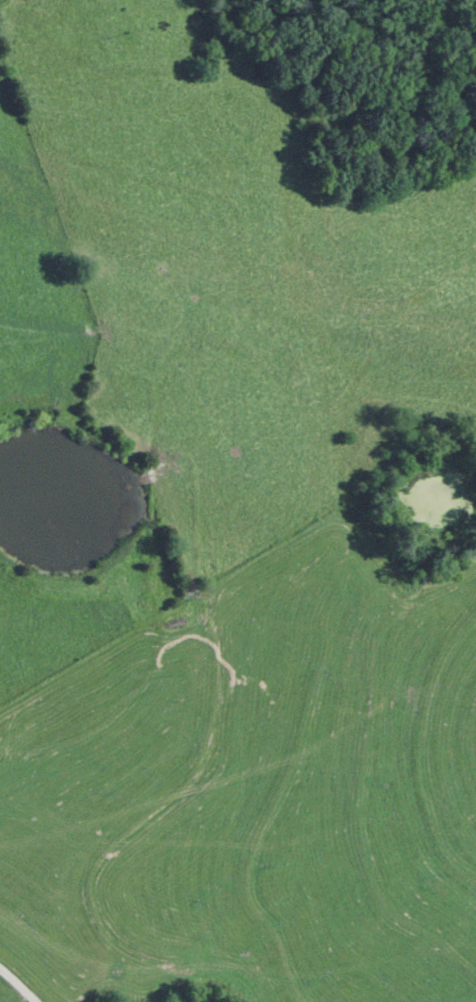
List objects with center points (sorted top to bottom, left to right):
road: (17, 985)

